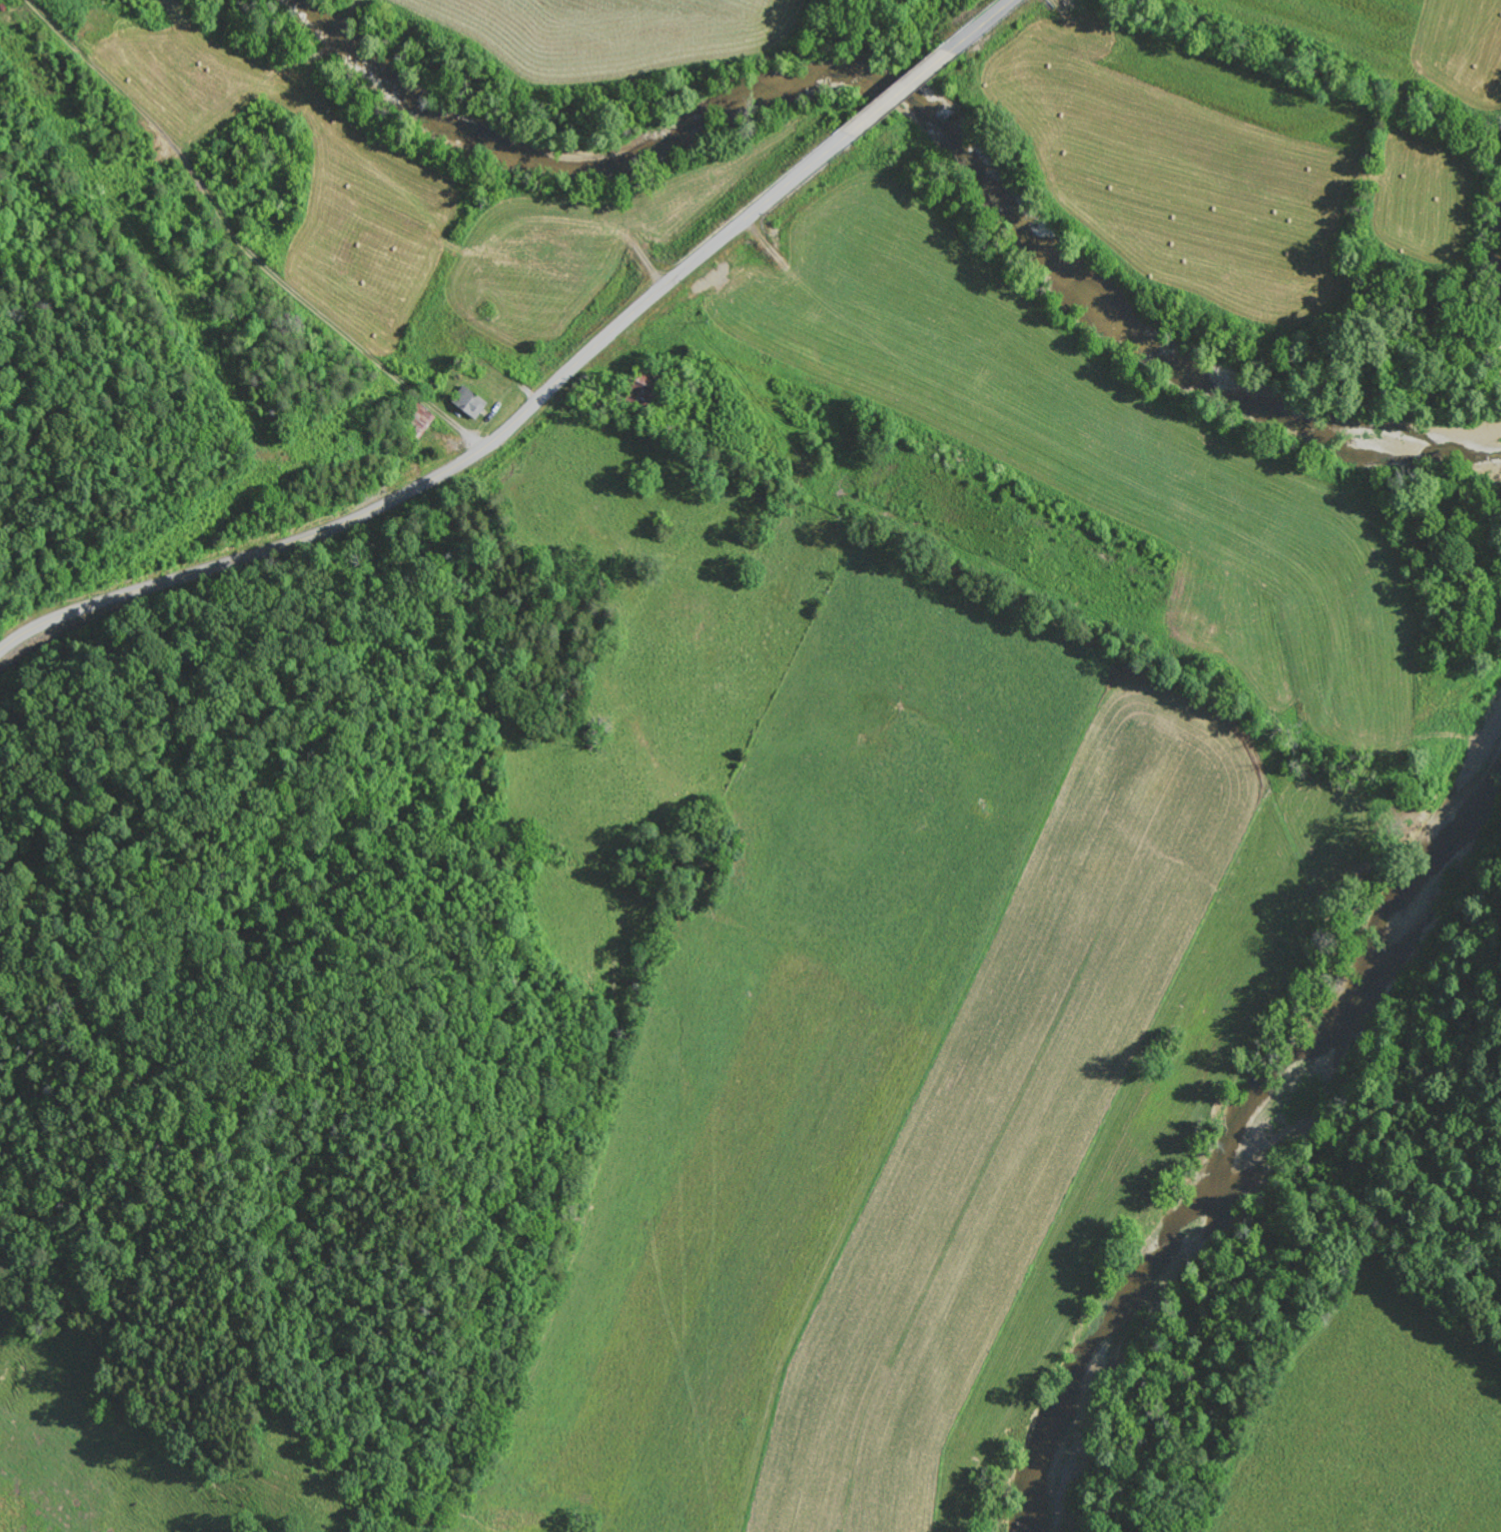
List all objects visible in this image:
road: (514, 132)
road: (545, 392)
building: (468, 405)

